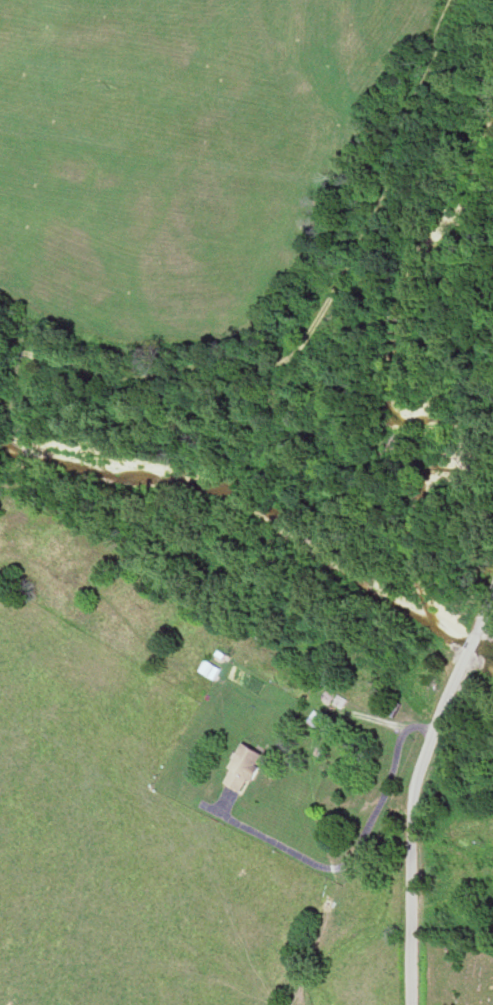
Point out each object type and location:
road: (320, 316)
building: (218, 669)
building: (249, 768)
road: (416, 795)
park: (459, 969)

